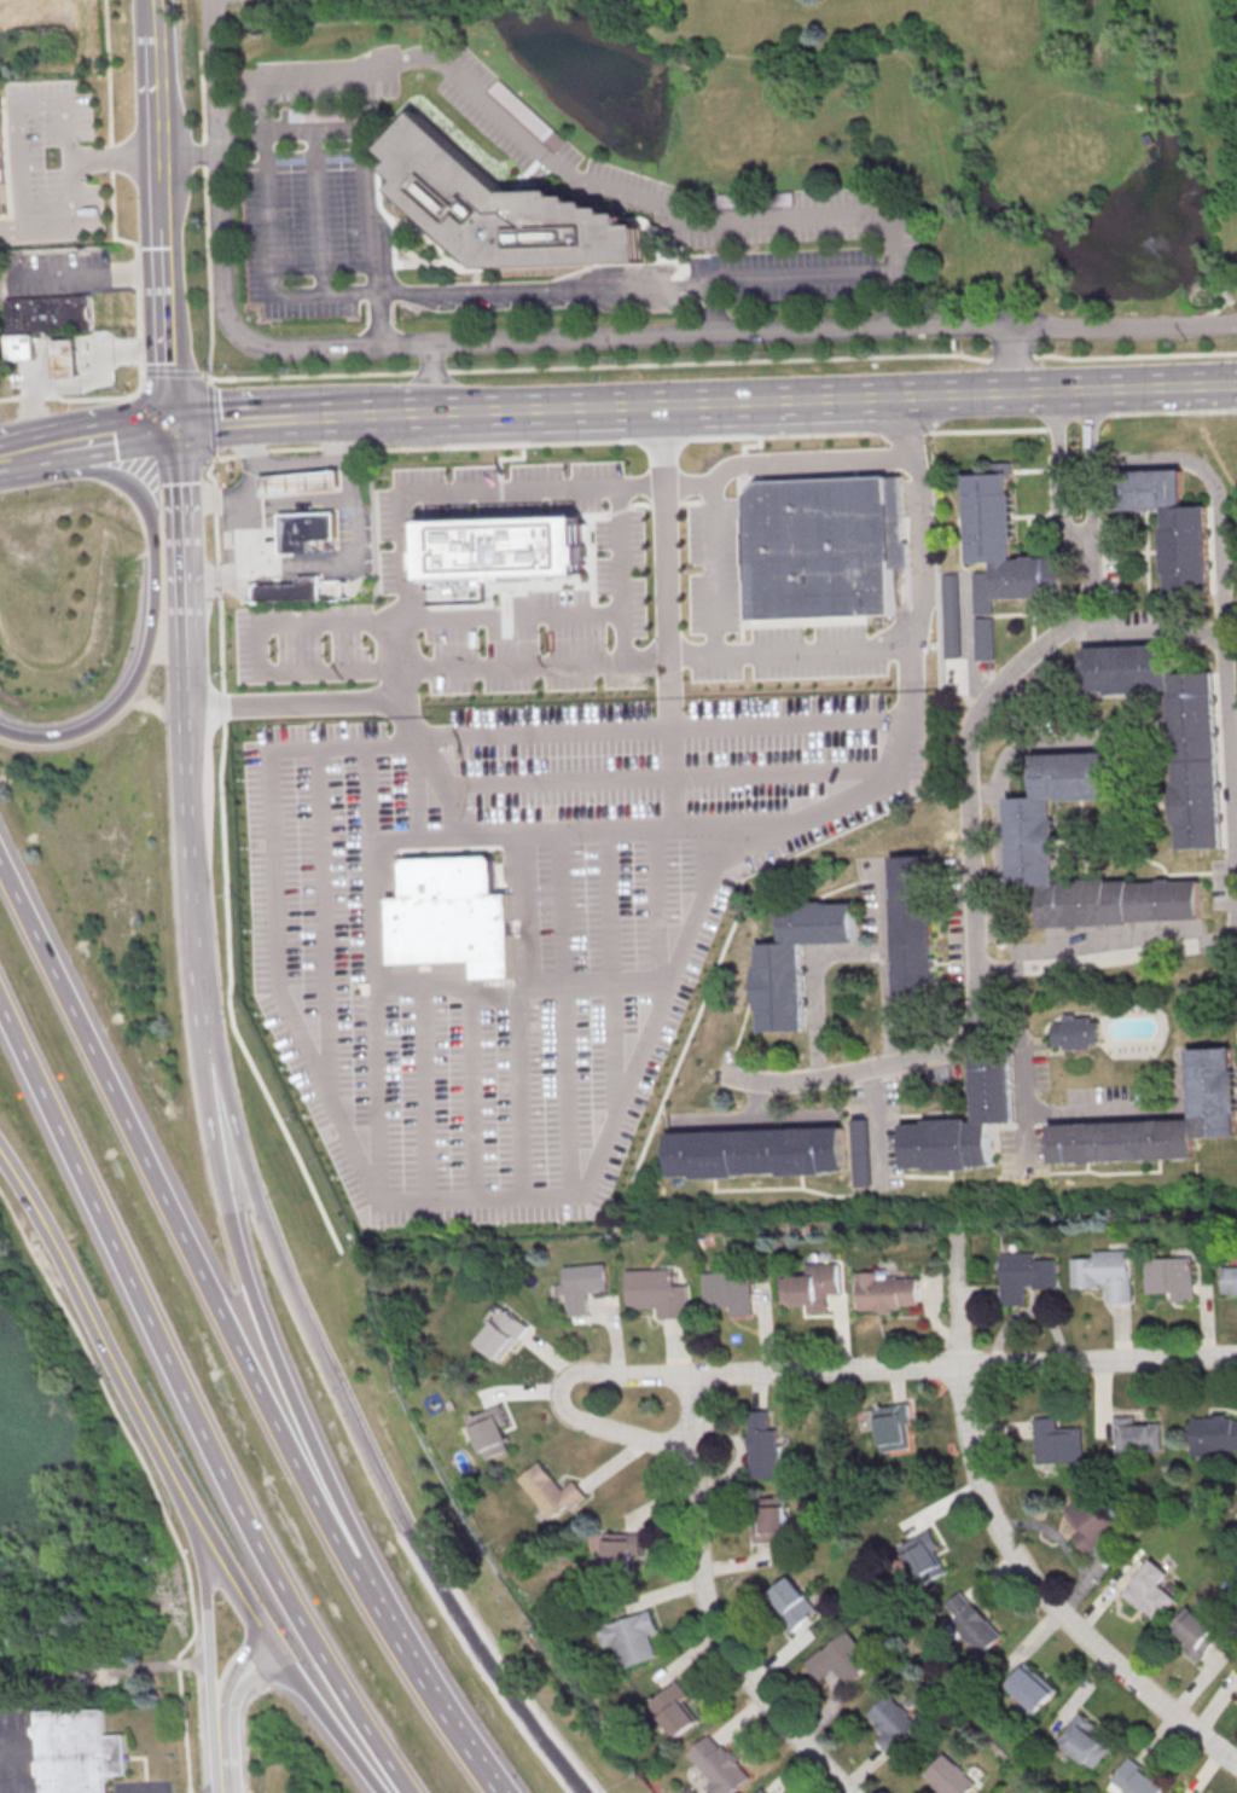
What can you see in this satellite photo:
road: (965, 5)
road: (152, 7)
road: (954, 7)
road: (875, 18)
road: (889, 37)
road: (327, 70)
road: (109, 72)
road: (1203, 86)
road: (157, 87)
road: (202, 97)
road: (927, 99)
road: (1157, 101)
road: (18, 106)
road: (1043, 123)
road: (319, 130)
road: (970, 149)
road: (243, 150)
road: (205, 153)
road: (114, 157)
building: (4, 161)
parking lot: (50, 162)
road: (76, 163)
road: (370, 179)
road: (161, 185)
road: (268, 185)
building: (498, 210)
road: (321, 211)
road: (768, 220)
road: (134, 273)
parking lot: (60, 274)
road: (60, 275)
road: (209, 275)
road: (552, 286)
road: (325, 291)
road: (892, 302)
road: (377, 306)
building: (48, 314)
road: (167, 317)
road: (1208, 327)
road: (539, 341)
road: (140, 343)
building: (21, 348)
road: (1209, 353)
building: (64, 359)
road: (1015, 359)
road: (696, 362)
road: (175, 371)
road: (439, 377)
road: (76, 384)
road: (1212, 384)
road: (1120, 387)
road: (981, 391)
road: (885, 395)
road: (803, 398)
road: (698, 400)
road: (586, 404)
road: (480, 408)
road: (1212, 410)
road: (406, 412)
road: (273, 418)
road: (211, 422)
traffic signals: (175, 424)
road: (911, 429)
road: (115, 435)
road: (702, 436)
road: (662, 443)
road: (40, 449)
road: (12, 454)
road: (1090, 466)
road: (1057, 476)
building: (298, 483)
gas station: (298, 483)
road: (249, 491)
road: (552, 492)
road: (1219, 495)
building: (1172, 526)
road: (251, 530)
building: (304, 532)
parking lot: (344, 532)
parking lot: (267, 533)
building: (1004, 541)
building: (827, 547)
building: (504, 552)
road: (349, 563)
road: (182, 569)
road: (718, 571)
road: (622, 575)
road: (353, 585)
building: (296, 590)
road: (242, 591)
road: (294, 592)
building: (981, 593)
road: (668, 594)
road: (153, 599)
building: (949, 616)
road: (342, 625)
road: (966, 636)
building: (983, 640)
road: (748, 657)
road: (792, 730)
building: (1174, 731)
road: (1035, 736)
road: (548, 737)
road: (675, 768)
road: (448, 793)
road: (982, 795)
road: (1232, 828)
road: (193, 839)
building: (1030, 839)
road: (999, 840)
road: (884, 892)
road: (971, 896)
building: (453, 917)
building: (914, 929)
building: (794, 962)
road: (812, 982)
road: (884, 992)
road: (528, 1005)
building: (1074, 1033)
road: (221, 1063)
road: (1026, 1068)
road: (1181, 1080)
road: (1105, 1112)
road: (627, 1118)
road: (381, 1120)
building: (964, 1122)
building: (1157, 1122)
road: (875, 1124)
building: (756, 1151)
building: (858, 1153)
road: (176, 1205)
road: (245, 1270)
building: (1103, 1275)
building: (1023, 1277)
building: (1169, 1280)
building: (1229, 1281)
building: (583, 1286)
building: (809, 1286)
building: (728, 1290)
building: (884, 1290)
building: (656, 1292)
building: (504, 1334)
road: (104, 1339)
road: (1098, 1360)
road: (824, 1369)
road: (558, 1397)
road: (194, 1408)
road: (691, 1410)
building: (887, 1426)
building: (490, 1432)
building: (1212, 1434)
building: (1134, 1435)
building: (1053, 1441)
building: (760, 1446)
road: (152, 1478)
building: (550, 1490)
road: (394, 1491)
building: (1235, 1516)
building: (767, 1520)
building: (1088, 1520)
building: (617, 1550)
building: (921, 1557)
road: (236, 1584)
building: (1145, 1590)
road: (1045, 1597)
building: (790, 1602)
building: (970, 1624)
road: (213, 1625)
building: (1194, 1632)
building: (627, 1637)
road: (720, 1642)
building: (841, 1658)
road: (238, 1672)
road: (430, 1677)
building: (1028, 1689)
building: (1236, 1689)
building: (670, 1708)
road: (329, 1714)
building: (890, 1725)
building: (1079, 1741)
building: (85, 1753)
road: (222, 1756)
building: (716, 1765)
building: (948, 1776)
building: (1136, 1779)
building: (759, 1791)

